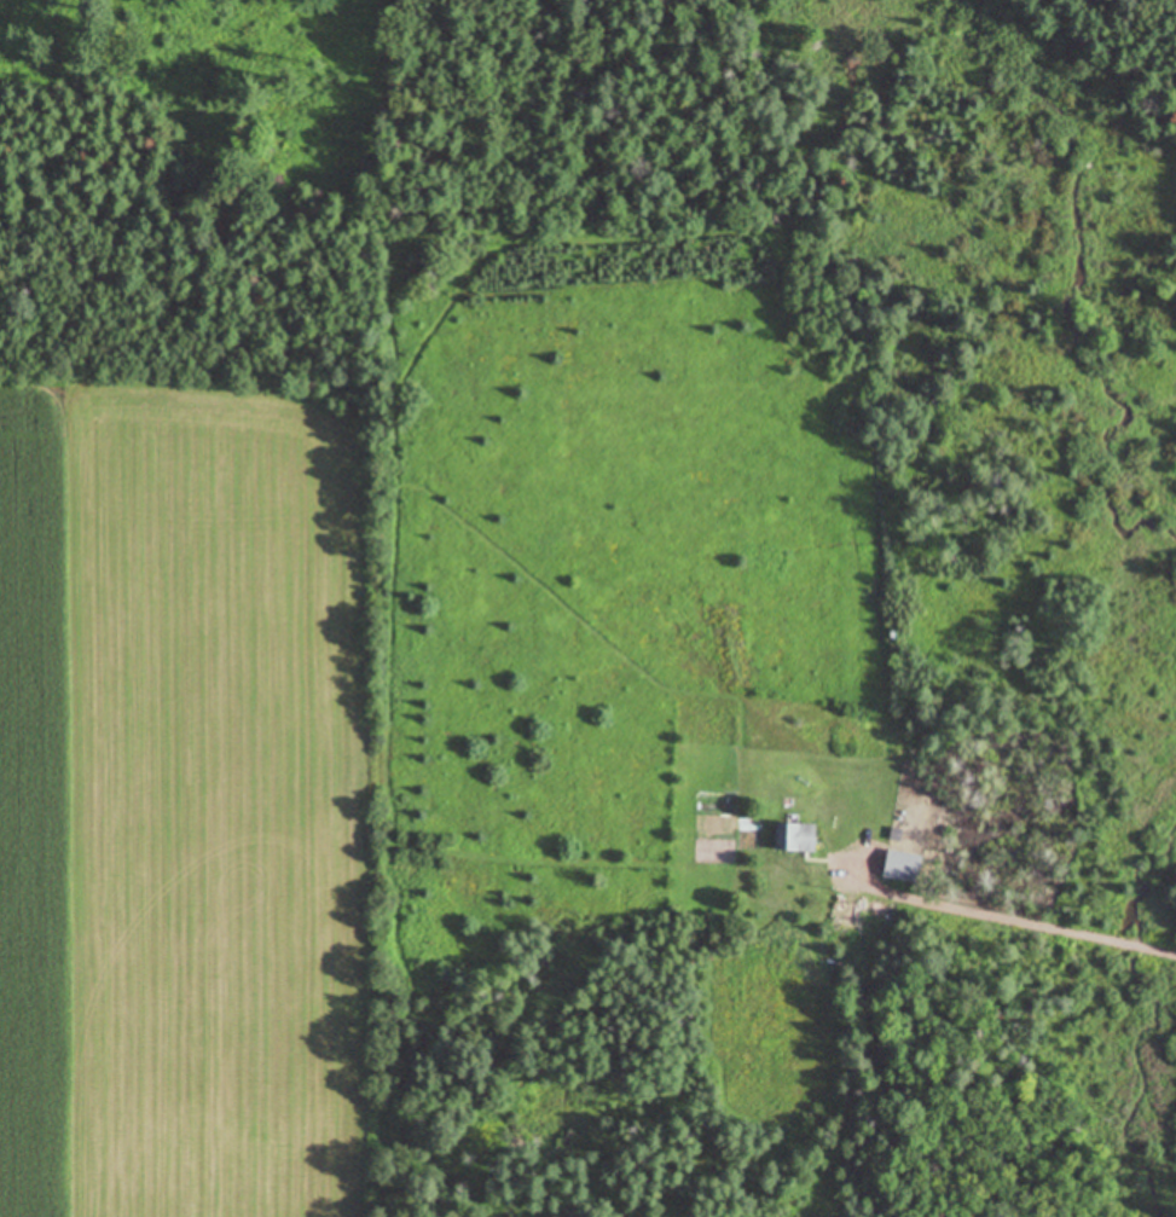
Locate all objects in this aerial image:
building: (798, 834)
building: (905, 864)
building: (844, 915)

